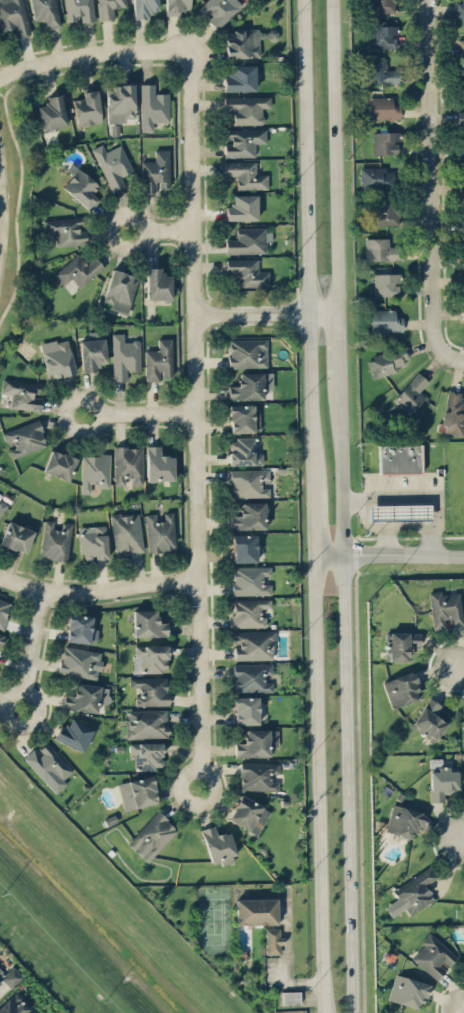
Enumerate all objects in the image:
building: (381, 5)
building: (176, 6)
building: (108, 8)
building: (143, 8)
building: (79, 10)
building: (218, 10)
building: (460, 10)
building: (45, 12)
building: (13, 16)
building: (383, 34)
building: (245, 41)
building: (460, 46)
road: (94, 54)
building: (378, 73)
building: (240, 78)
building: (120, 102)
building: (152, 106)
building: (383, 107)
building: (87, 108)
building: (246, 108)
building: (51, 112)
building: (461, 117)
building: (243, 141)
building: (385, 142)
building: (462, 144)
road: (336, 155)
building: (112, 165)
building: (155, 171)
building: (246, 174)
building: (376, 177)
building: (80, 186)
building: (461, 187)
road: (430, 188)
building: (242, 207)
road: (3, 212)
building: (385, 213)
building: (462, 223)
building: (65, 230)
road: (161, 230)
building: (247, 241)
building: (381, 249)
building: (463, 250)
building: (78, 270)
building: (247, 272)
building: (157, 284)
building: (385, 284)
building: (463, 285)
building: (120, 290)
road: (268, 312)
building: (462, 313)
building: (385, 320)
road: (340, 342)
building: (92, 351)
building: (247, 353)
building: (124, 356)
building: (57, 358)
building: (159, 360)
building: (387, 361)
building: (250, 385)
building: (22, 393)
building: (411, 393)
building: (453, 413)
road: (140, 414)
building: (243, 417)
road: (196, 420)
building: (24, 438)
building: (244, 451)
building: (399, 458)
building: (59, 464)
building: (127, 464)
building: (158, 464)
building: (94, 471)
building: (249, 482)
road: (425, 498)
building: (2, 506)
road: (314, 506)
building: (399, 512)
building: (249, 516)
road: (384, 527)
road: (422, 527)
building: (160, 532)
building: (126, 533)
building: (16, 537)
building: (55, 541)
building: (93, 542)
building: (243, 547)
road: (389, 554)
building: (250, 580)
road: (97, 591)
building: (445, 609)
building: (3, 610)
building: (250, 612)
building: (148, 623)
building: (80, 629)
building: (0, 635)
building: (399, 644)
building: (252, 645)
road: (32, 649)
building: (150, 658)
building: (80, 662)
road: (460, 669)
building: (252, 677)
building: (401, 689)
building: (150, 690)
road: (346, 693)
building: (83, 698)
building: (246, 710)
building: (430, 719)
building: (146, 723)
building: (73, 734)
building: (256, 743)
building: (146, 754)
building: (48, 766)
building: (463, 769)
building: (257, 776)
building: (442, 782)
building: (137, 792)
building: (248, 814)
building: (403, 820)
building: (152, 835)
road: (463, 839)
building: (218, 845)
building: (412, 893)
building: (256, 911)
building: (272, 940)
building: (433, 956)
road: (287, 969)
building: (0, 970)
building: (10, 976)
building: (0, 982)
building: (407, 991)
building: (290, 997)
building: (14, 1005)

